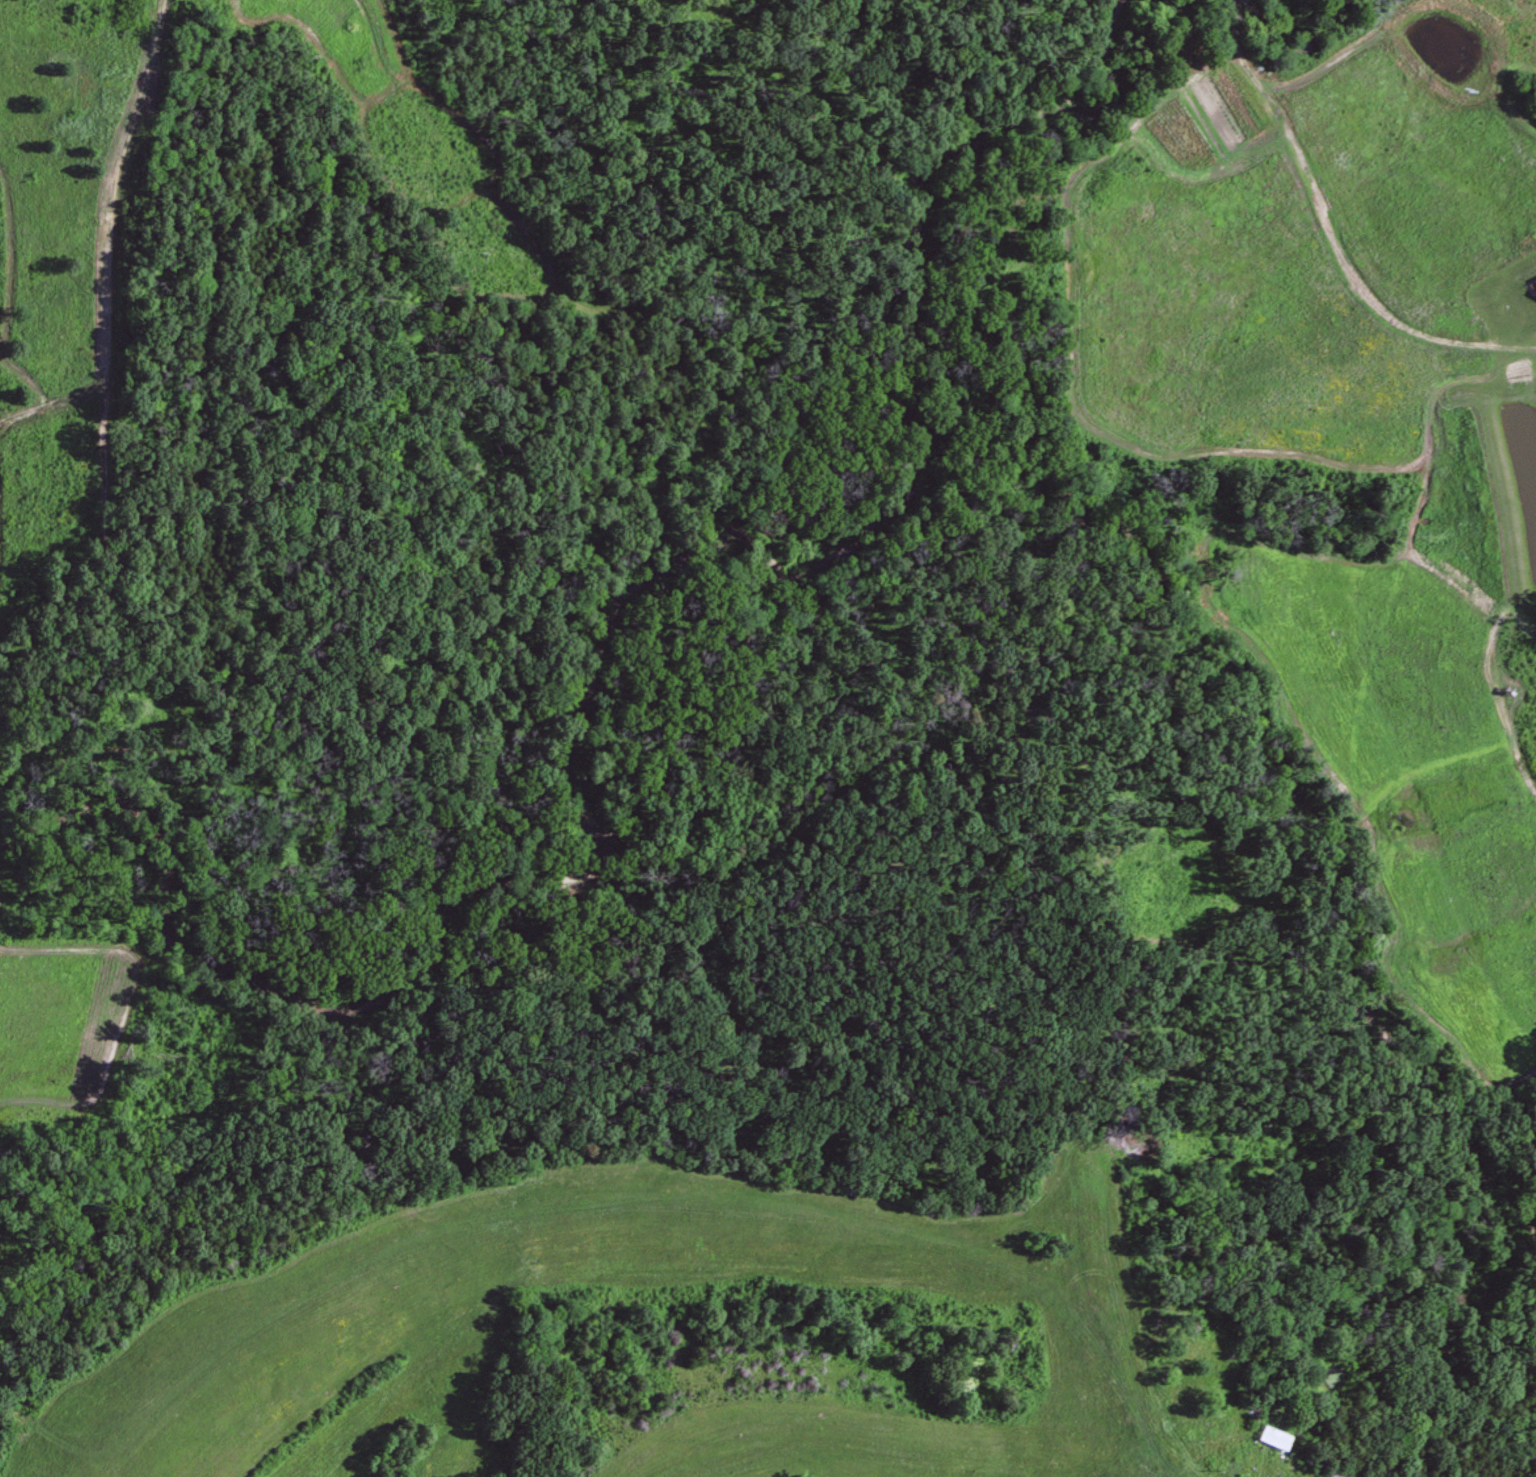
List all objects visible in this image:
road: (1340, 213)
building: (1533, 284)
building: (1272, 1439)

